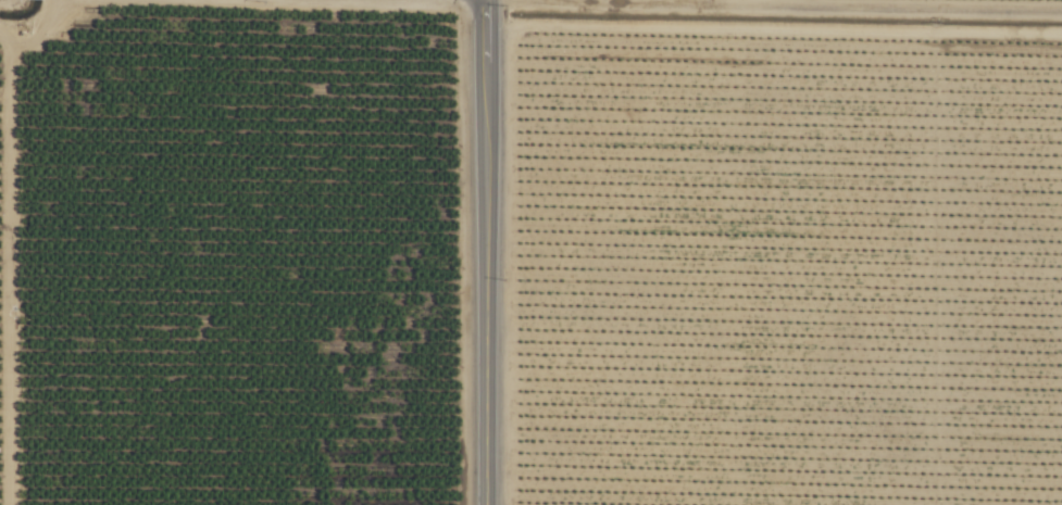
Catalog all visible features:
road: (484, 252)

